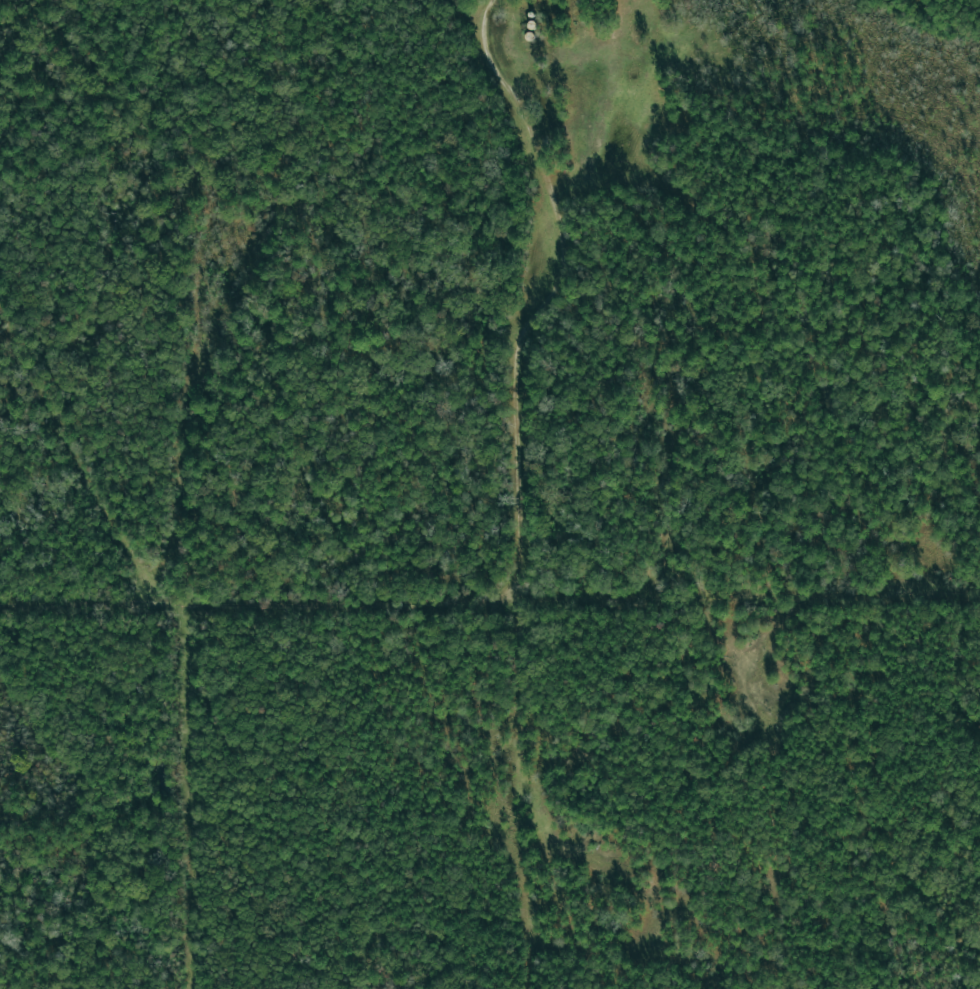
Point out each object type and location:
road: (548, 296)
road: (248, 598)

